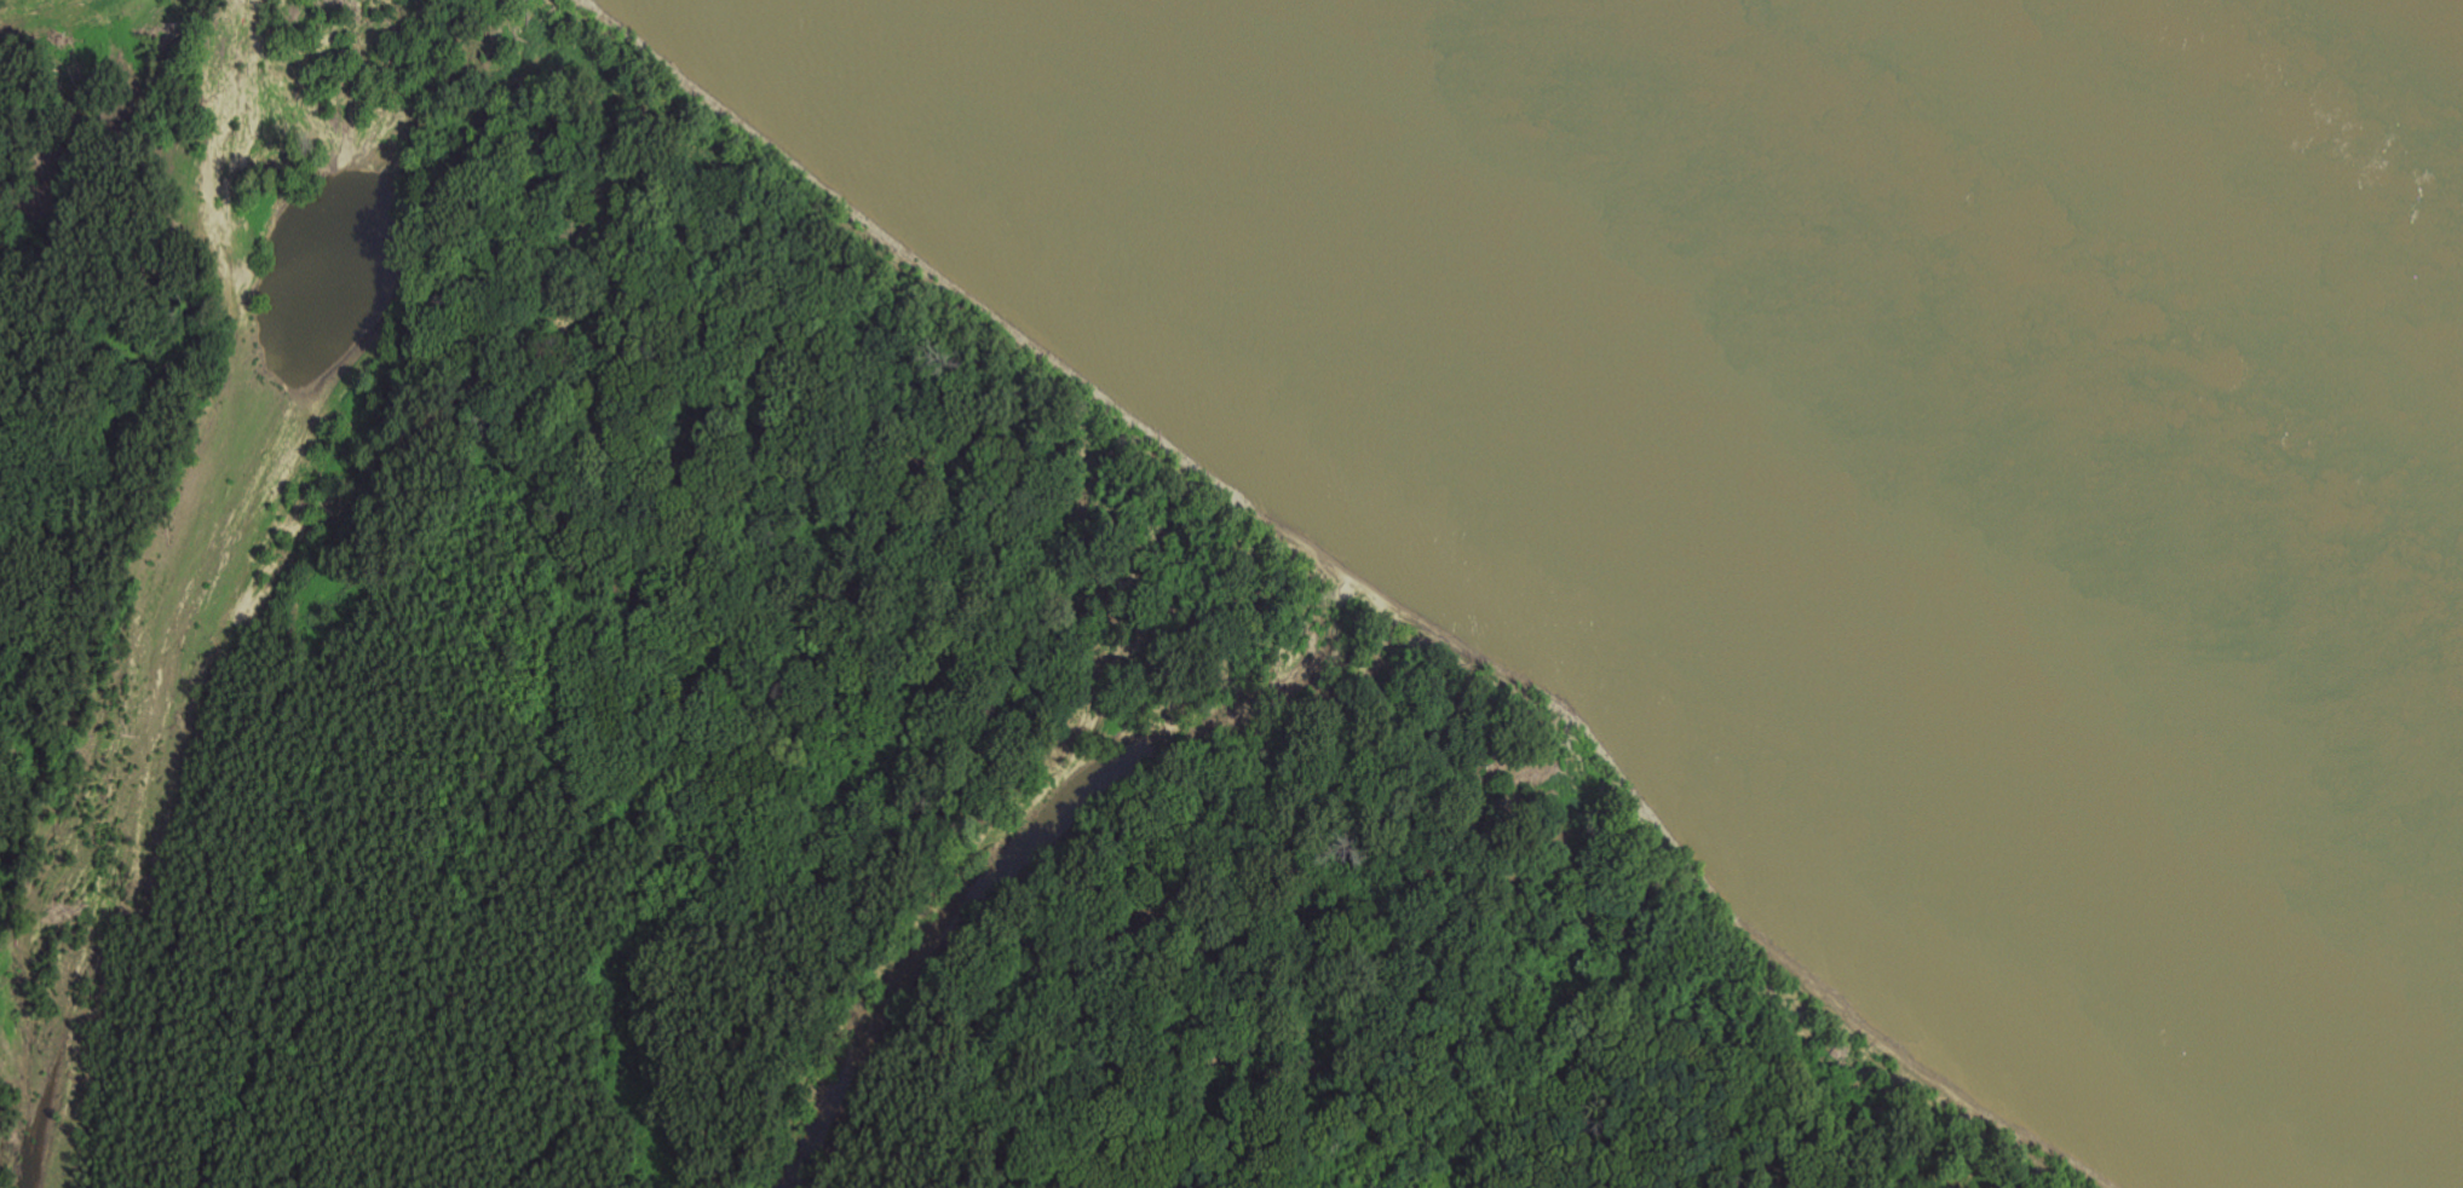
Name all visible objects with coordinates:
river: (2257, 158)

